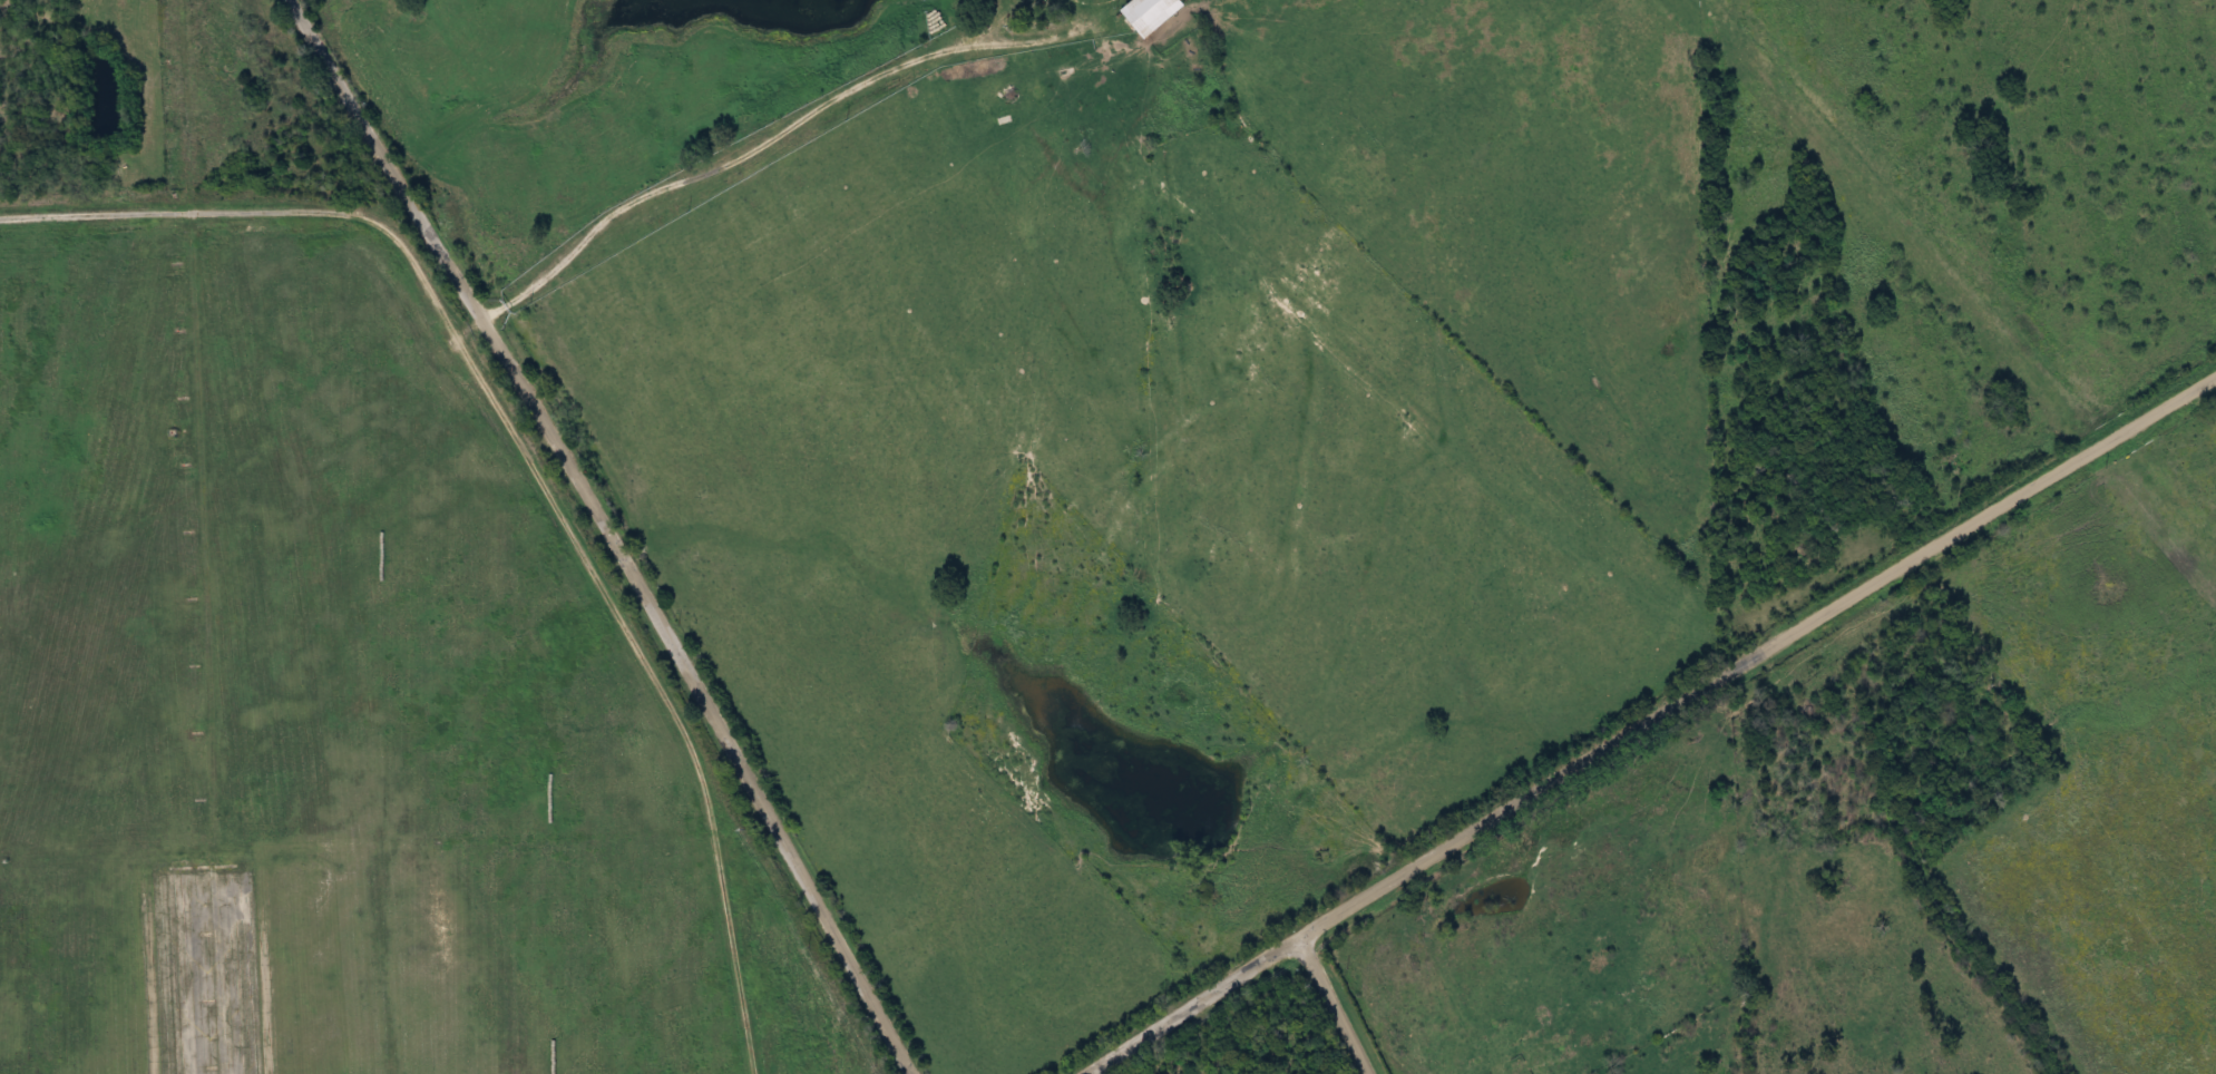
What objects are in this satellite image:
building: (1151, 13)
road: (615, 531)
airport: (336, 689)
road: (1650, 725)
road: (1330, 1008)
airport: (1243, 1038)

